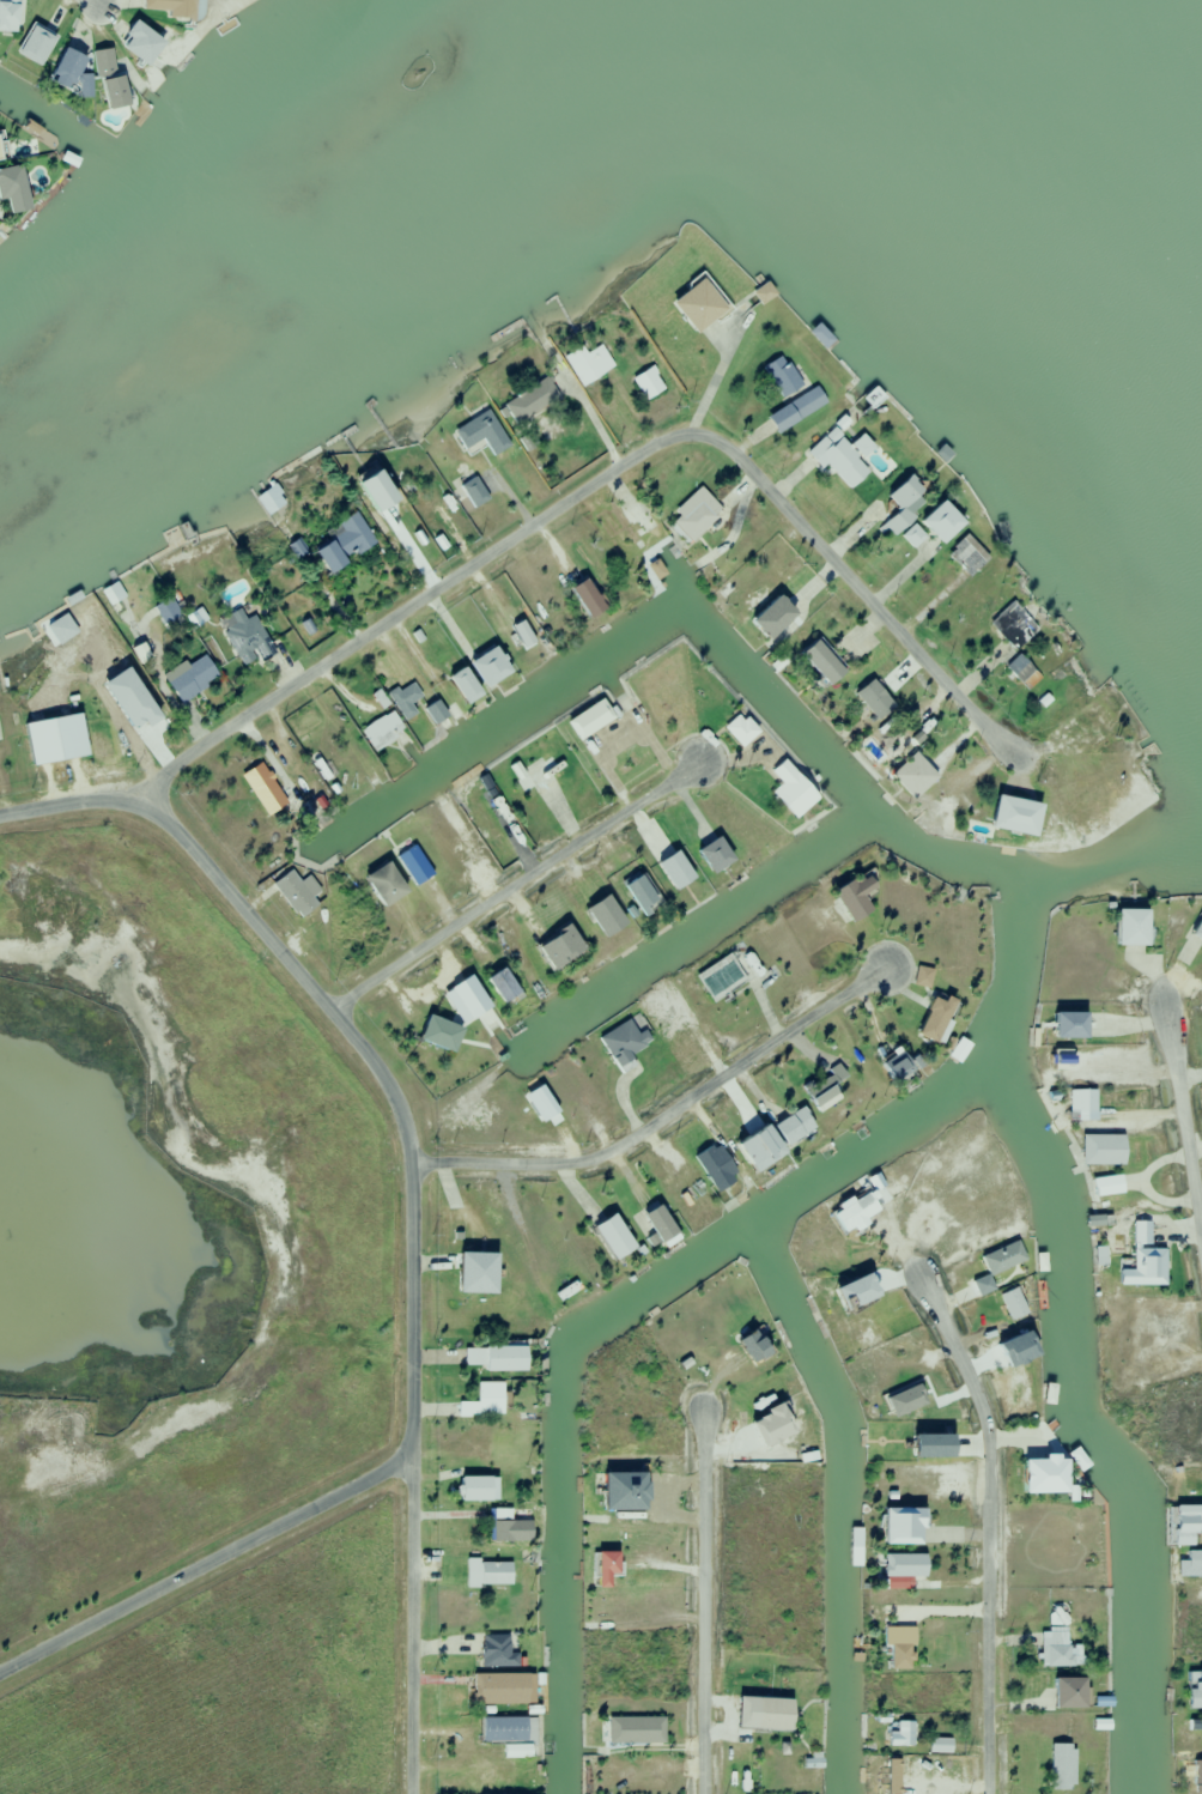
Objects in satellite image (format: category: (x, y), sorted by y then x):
road: (93, 0)
building: (166, 7)
building: (135, 41)
building: (30, 44)
building: (63, 65)
building: (105, 78)
building: (8, 181)
building: (763, 293)
building: (693, 304)
building: (818, 337)
building: (589, 365)
road: (710, 370)
building: (781, 376)
building: (646, 382)
building: (870, 399)
building: (529, 400)
building: (794, 410)
road: (591, 419)
building: (479, 434)
building: (837, 460)
road: (597, 478)
building: (366, 492)
building: (265, 503)
building: (900, 504)
building: (632, 521)
building: (691, 521)
building: (936, 522)
building: (340, 543)
building: (963, 556)
building: (582, 598)
building: (766, 608)
building: (164, 611)
building: (1012, 626)
building: (245, 640)
building: (816, 662)
building: (484, 667)
building: (1018, 669)
building: (189, 678)
building: (457, 686)
building: (114, 697)
building: (405, 697)
building: (431, 711)
building: (587, 720)
building: (1088, 727)
building: (381, 731)
building: (736, 731)
building: (912, 769)
building: (533, 777)
building: (266, 789)
building: (787, 790)
building: (1009, 816)
building: (710, 855)
building: (412, 865)
building: (670, 871)
building: (380, 884)
road: (511, 886)
building: (295, 892)
building: (636, 893)
building: (849, 897)
building: (600, 916)
building: (1125, 928)
building: (1196, 929)
building: (556, 947)
building: (724, 974)
building: (497, 986)
building: (662, 1004)
building: (931, 1019)
building: (1062, 1025)
building: (435, 1035)
building: (620, 1042)
building: (888, 1071)
building: (821, 1089)
building: (1080, 1105)
road: (661, 1114)
building: (789, 1127)
road: (1183, 1131)
building: (753, 1144)
building: (1099, 1150)
building: (711, 1166)
road: (407, 1180)
building: (1105, 1186)
building: (852, 1211)
building: (652, 1223)
building: (608, 1235)
building: (998, 1257)
building: (1142, 1260)
building: (469, 1273)
building: (1009, 1303)
building: (746, 1345)
building: (466, 1356)
building: (499, 1356)
building: (1015, 1390)
building: (486, 1399)
building: (916, 1404)
building: (1037, 1474)
building: (474, 1487)
building: (608, 1495)
building: (896, 1525)
building: (1180, 1525)
building: (504, 1527)
road: (984, 1529)
road: (204, 1560)
building: (601, 1562)
building: (899, 1564)
building: (486, 1574)
road: (700, 1605)
building: (1052, 1613)
building: (1054, 1648)
building: (494, 1651)
building: (898, 1656)
building: (1063, 1692)
building: (490, 1693)
building: (1191, 1695)
building: (766, 1713)
building: (502, 1729)
building: (632, 1729)
building: (901, 1735)
building: (1060, 1766)
building: (1195, 1771)
building: (490, 1777)

